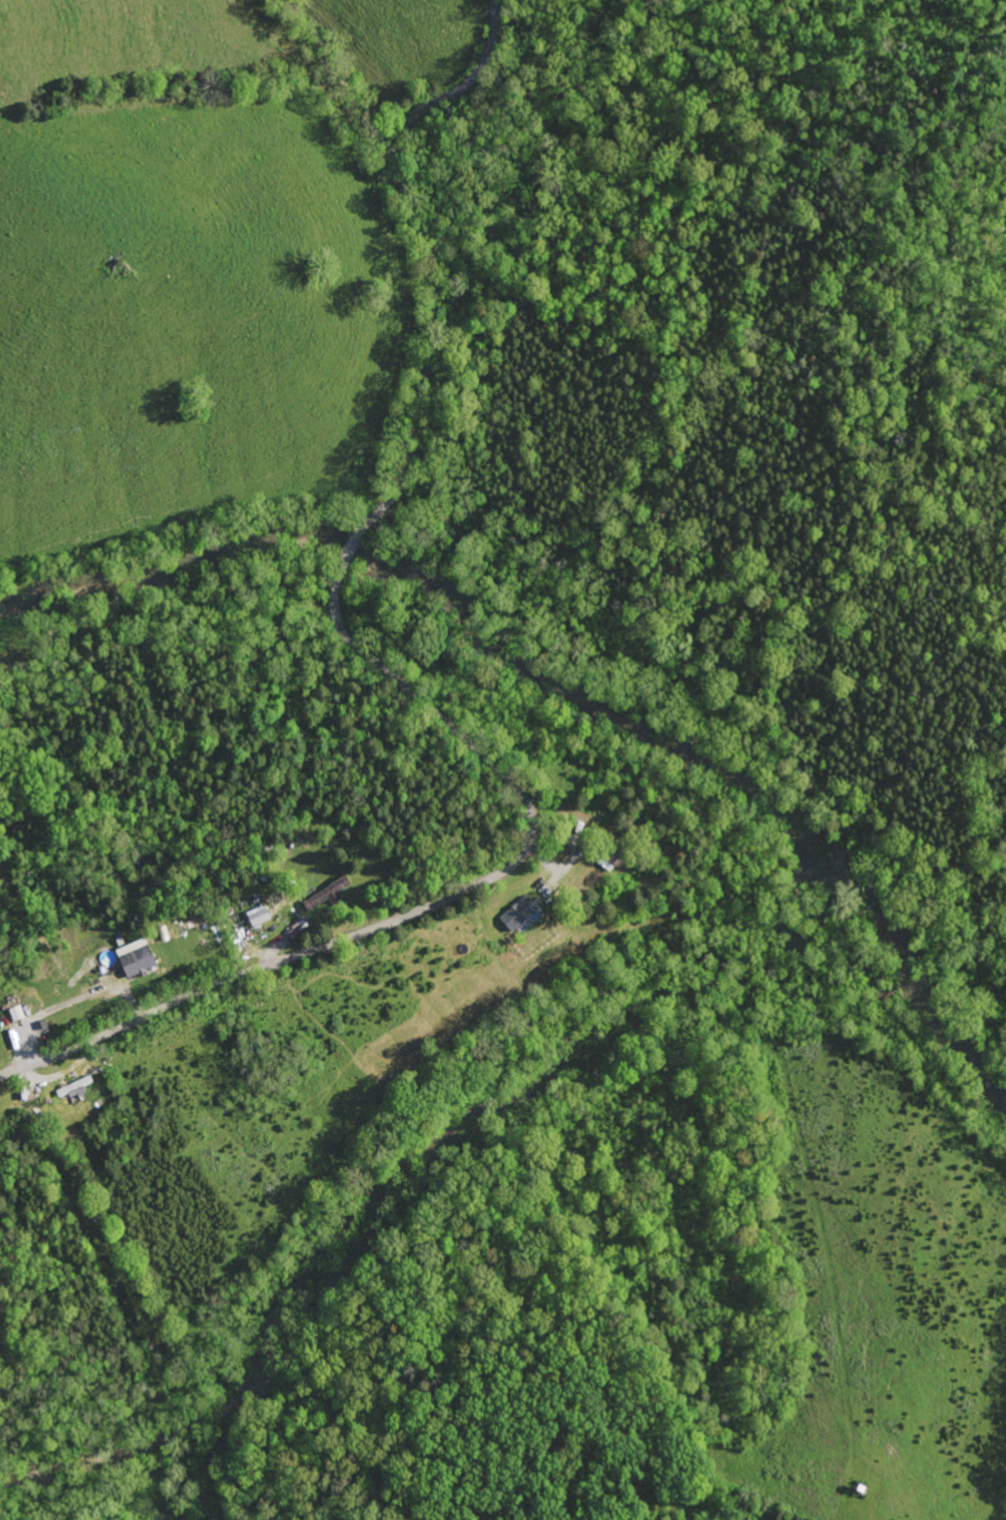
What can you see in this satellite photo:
road: (422, 249)
road: (350, 551)
building: (321, 895)
road: (437, 901)
building: (515, 913)
building: (254, 916)
building: (131, 958)
road: (70, 1001)
building: (14, 1013)
road: (61, 1073)

